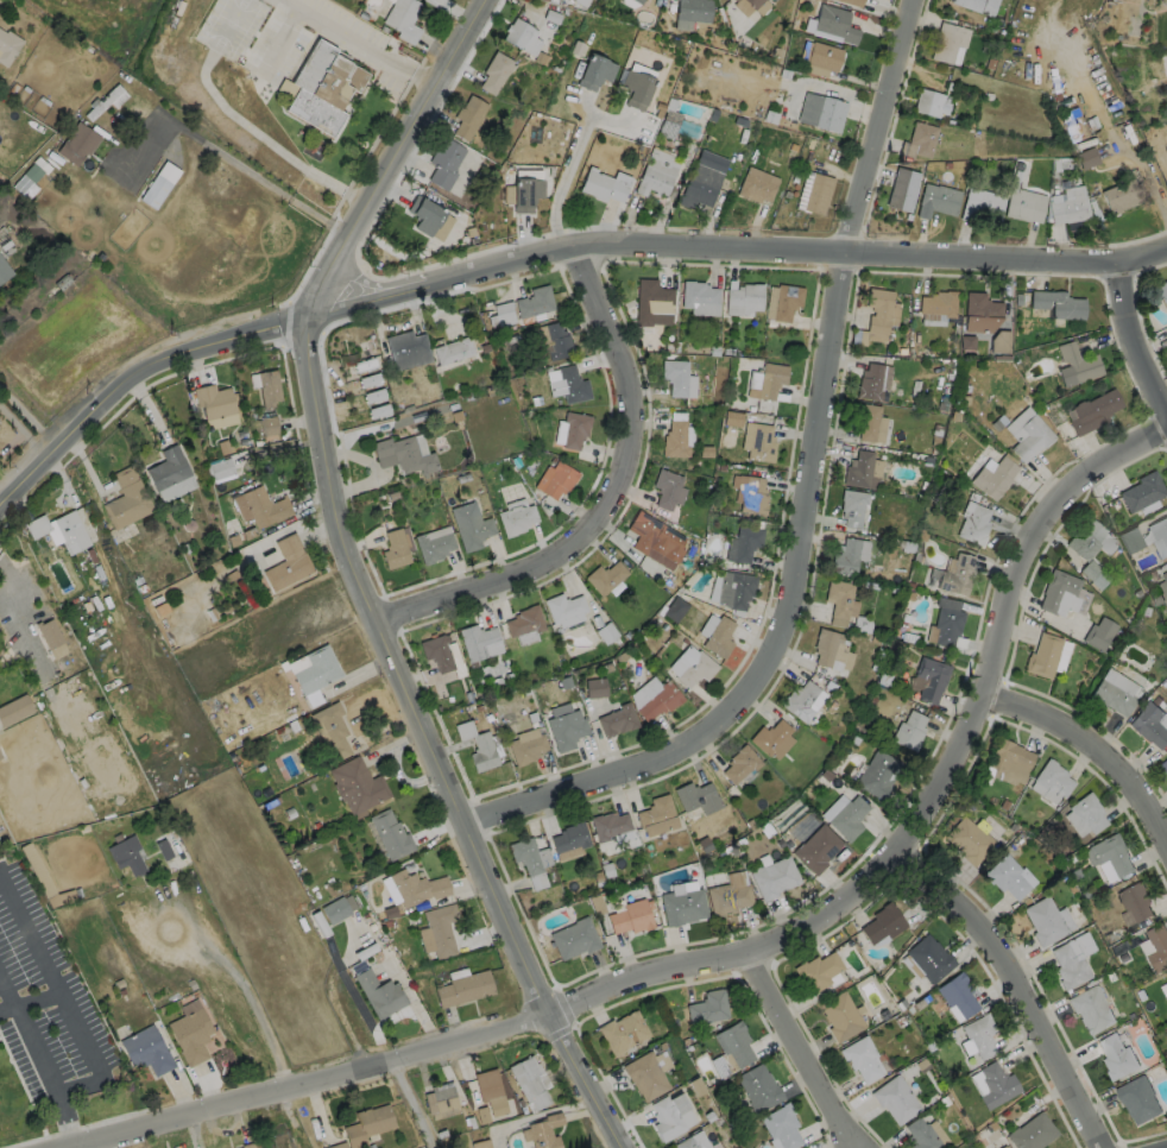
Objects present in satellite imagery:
building: (581, 1)
building: (637, 1)
building: (752, 2)
building: (851, 2)
building: (977, 5)
building: (762, 7)
building: (693, 10)
building: (402, 18)
building: (833, 24)
building: (516, 31)
building: (946, 40)
building: (7, 45)
road: (368, 45)
building: (819, 57)
building: (594, 69)
building: (494, 70)
building: (322, 84)
building: (286, 87)
building: (636, 87)
building: (112, 97)
building: (931, 102)
building: (821, 111)
building: (468, 115)
building: (669, 122)
road: (885, 125)
building: (1073, 126)
building: (921, 138)
building: (76, 143)
road: (403, 158)
building: (1086, 158)
building: (444, 162)
building: (656, 171)
road: (564, 178)
building: (26, 181)
building: (756, 183)
building: (158, 184)
building: (700, 184)
building: (601, 185)
building: (901, 189)
building: (525, 191)
building: (816, 193)
building: (1121, 194)
building: (936, 198)
building: (1024, 204)
building: (982, 207)
building: (1068, 208)
building: (424, 213)
road: (721, 247)
building: (4, 269)
building: (1166, 278)
building: (1162, 290)
building: (700, 297)
building: (744, 298)
building: (535, 301)
building: (782, 301)
building: (654, 302)
building: (1058, 302)
building: (938, 303)
building: (879, 313)
building: (982, 313)
building: (502, 315)
building: (1166, 330)
road: (1131, 339)
building: (557, 341)
building: (406, 348)
building: (452, 349)
building: (364, 362)
building: (1075, 364)
building: (675, 376)
building: (768, 378)
building: (368, 379)
building: (870, 380)
road: (124, 381)
building: (573, 384)
building: (267, 386)
building: (373, 395)
building: (213, 399)
building: (377, 409)
building: (1093, 410)
building: (733, 418)
building: (869, 422)
building: (270, 425)
building: (575, 429)
building: (1030, 436)
building: (675, 439)
building: (758, 441)
building: (402, 454)
building: (221, 467)
building: (168, 468)
building: (858, 468)
building: (992, 477)
building: (559, 479)
building: (668, 487)
building: (1141, 491)
building: (750, 492)
road: (605, 497)
building: (126, 498)
building: (260, 506)
building: (852, 506)
building: (515, 519)
building: (974, 524)
building: (471, 525)
building: (1159, 530)
building: (69, 531)
building: (654, 536)
building: (1086, 537)
building: (1130, 540)
building: (743, 543)
building: (434, 545)
building: (395, 548)
building: (849, 555)
building: (288, 562)
building: (957, 574)
building: (1092, 574)
building: (605, 576)
building: (1165, 576)
building: (734, 588)
building: (1056, 588)
building: (838, 600)
building: (563, 607)
building: (675, 608)
building: (525, 620)
building: (948, 624)
road: (784, 627)
building: (46, 632)
building: (606, 632)
building: (1099, 632)
building: (719, 637)
building: (477, 641)
building: (825, 645)
building: (437, 651)
building: (1042, 655)
building: (696, 668)
building: (316, 670)
building: (931, 677)
building: (595, 687)
building: (1111, 696)
building: (800, 700)
building: (660, 701)
building: (14, 709)
building: (617, 719)
building: (1149, 724)
building: (566, 728)
building: (332, 730)
building: (909, 730)
building: (771, 738)
road: (437, 740)
road: (1091, 746)
building: (526, 748)
building: (482, 751)
building: (1009, 756)
building: (0, 757)
building: (739, 763)
building: (1163, 764)
building: (878, 774)
building: (1053, 777)
building: (358, 784)
building: (696, 796)
building: (1085, 814)
building: (656, 815)
building: (784, 816)
building: (849, 818)
building: (608, 825)
building: (391, 833)
building: (570, 837)
building: (969, 840)
building: (816, 849)
building: (1111, 853)
building: (125, 854)
building: (525, 854)
building: (1005, 876)
building: (775, 877)
building: (417, 887)
building: (727, 898)
building: (1135, 901)
building: (682, 906)
building: (335, 910)
building: (631, 916)
building: (1043, 920)
building: (883, 923)
building: (441, 928)
building: (574, 938)
building: (1157, 947)
road: (749, 952)
building: (931, 958)
building: (1068, 965)
building: (818, 971)
road: (240, 984)
building: (465, 988)
building: (1163, 988)
road: (1013, 989)
road: (332, 992)
building: (379, 992)
building: (958, 995)
road: (411, 996)
road: (63, 997)
road: (31, 1002)
building: (708, 1007)
building: (1090, 1008)
building: (840, 1015)
building: (623, 1032)
building: (190, 1034)
building: (982, 1035)
building: (734, 1042)
building: (146, 1049)
road: (803, 1049)
building: (1115, 1055)
building: (860, 1058)
road: (39, 1062)
building: (644, 1076)
building: (530, 1083)
building: (997, 1085)
building: (758, 1087)
building: (491, 1090)
building: (440, 1097)
building: (1137, 1098)
building: (896, 1099)
road: (411, 1104)
building: (668, 1116)
building: (367, 1124)
building: (782, 1125)
building: (544, 1131)
building: (1032, 1131)
building: (921, 1134)
building: (280, 1140)
building: (481, 1143)
building: (686, 1143)
building: (247, 1144)
building: (339, 1146)
building: (1003, 1147)

